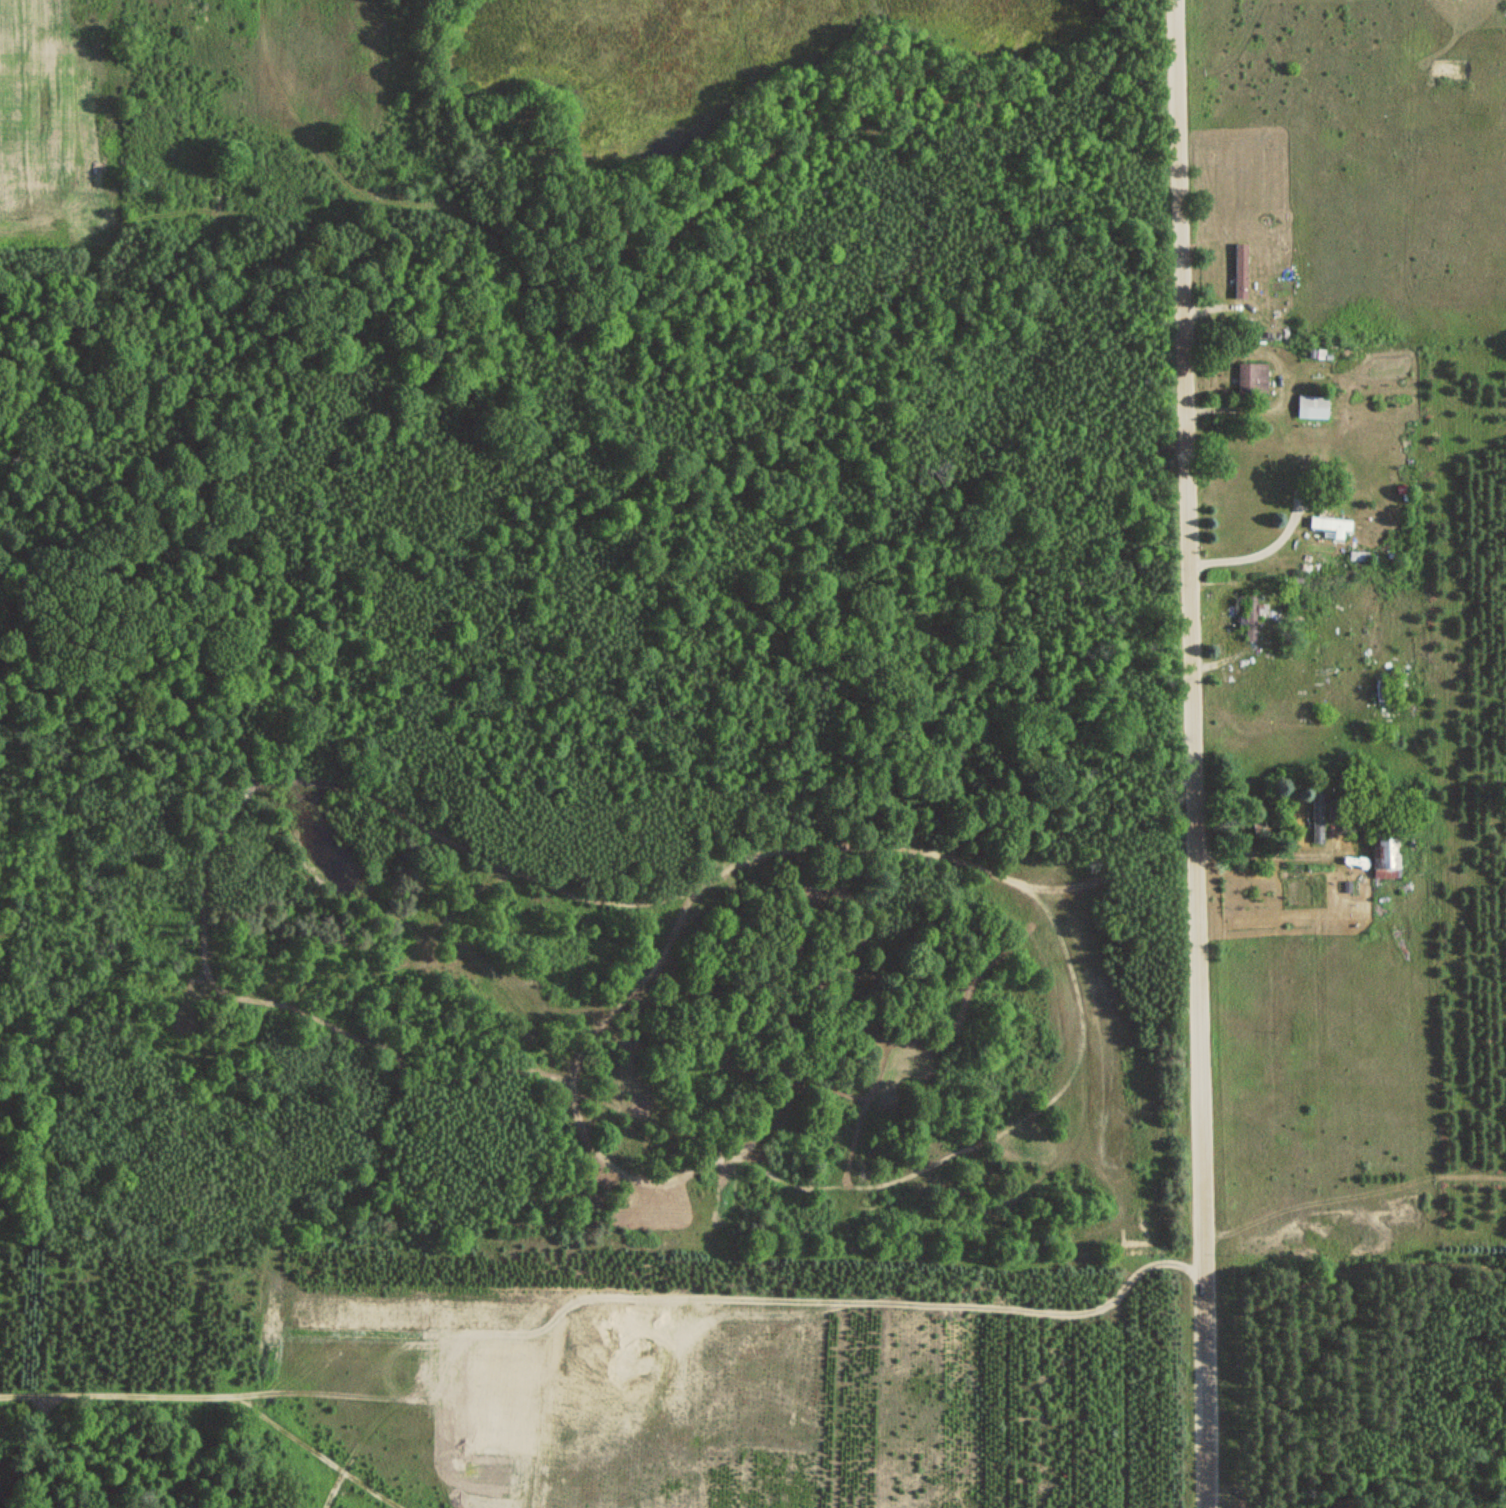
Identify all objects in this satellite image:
building: (1238, 271)
building: (1250, 379)
building: (1310, 407)
building: (1328, 525)
building: (1356, 556)
building: (1249, 617)
road: (1190, 754)
building: (1317, 815)
building: (1383, 857)

